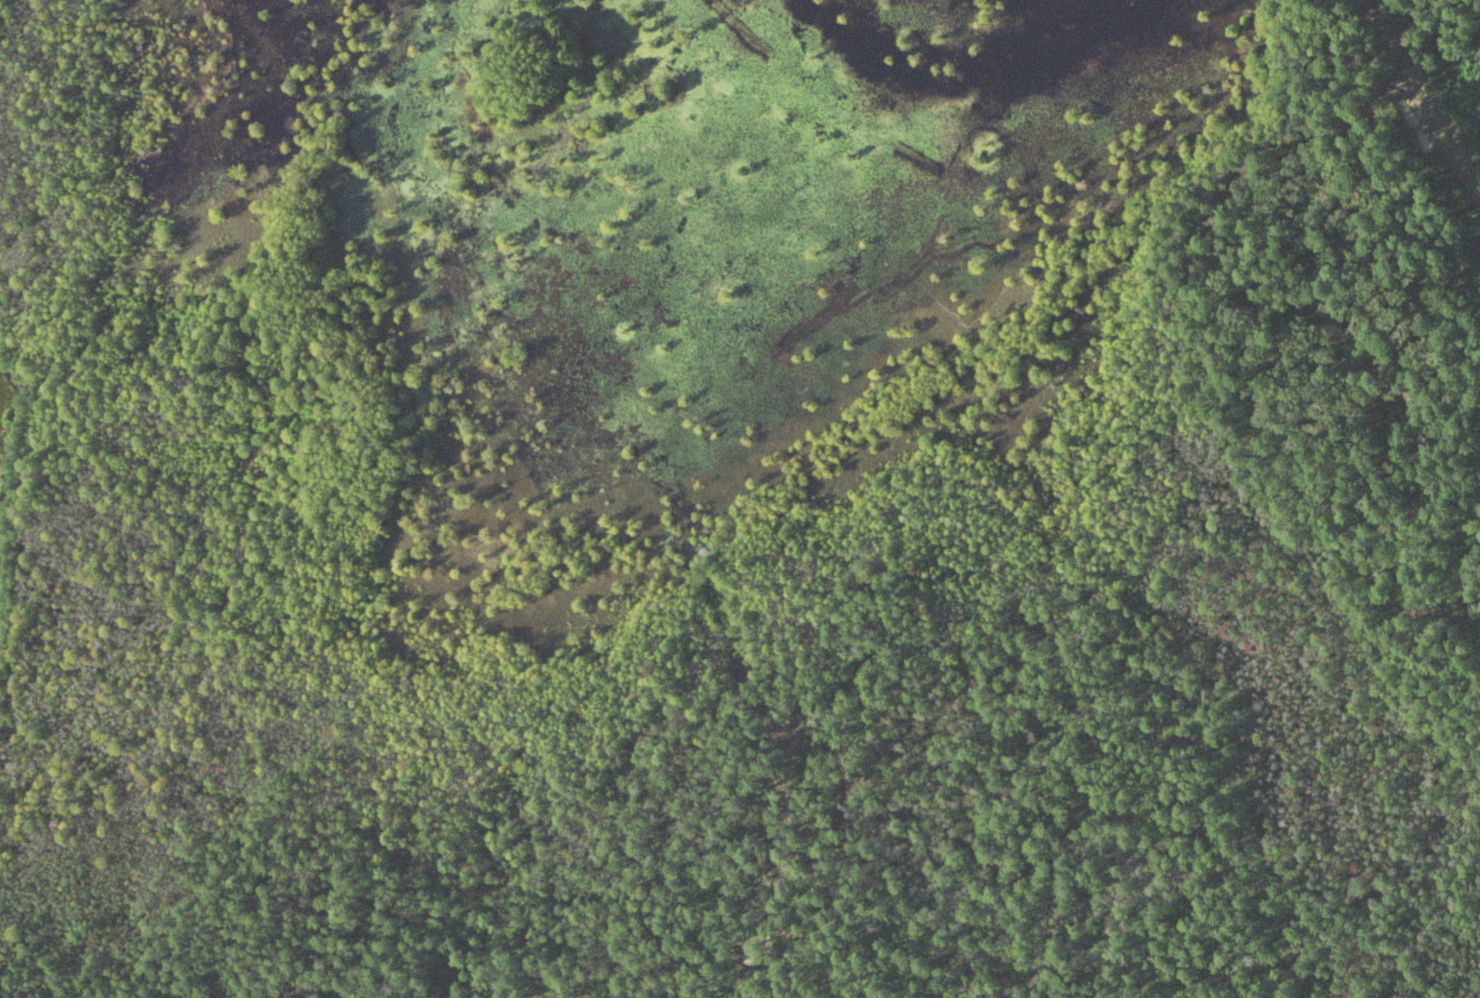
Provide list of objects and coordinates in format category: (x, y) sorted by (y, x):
road: (1421, 94)

